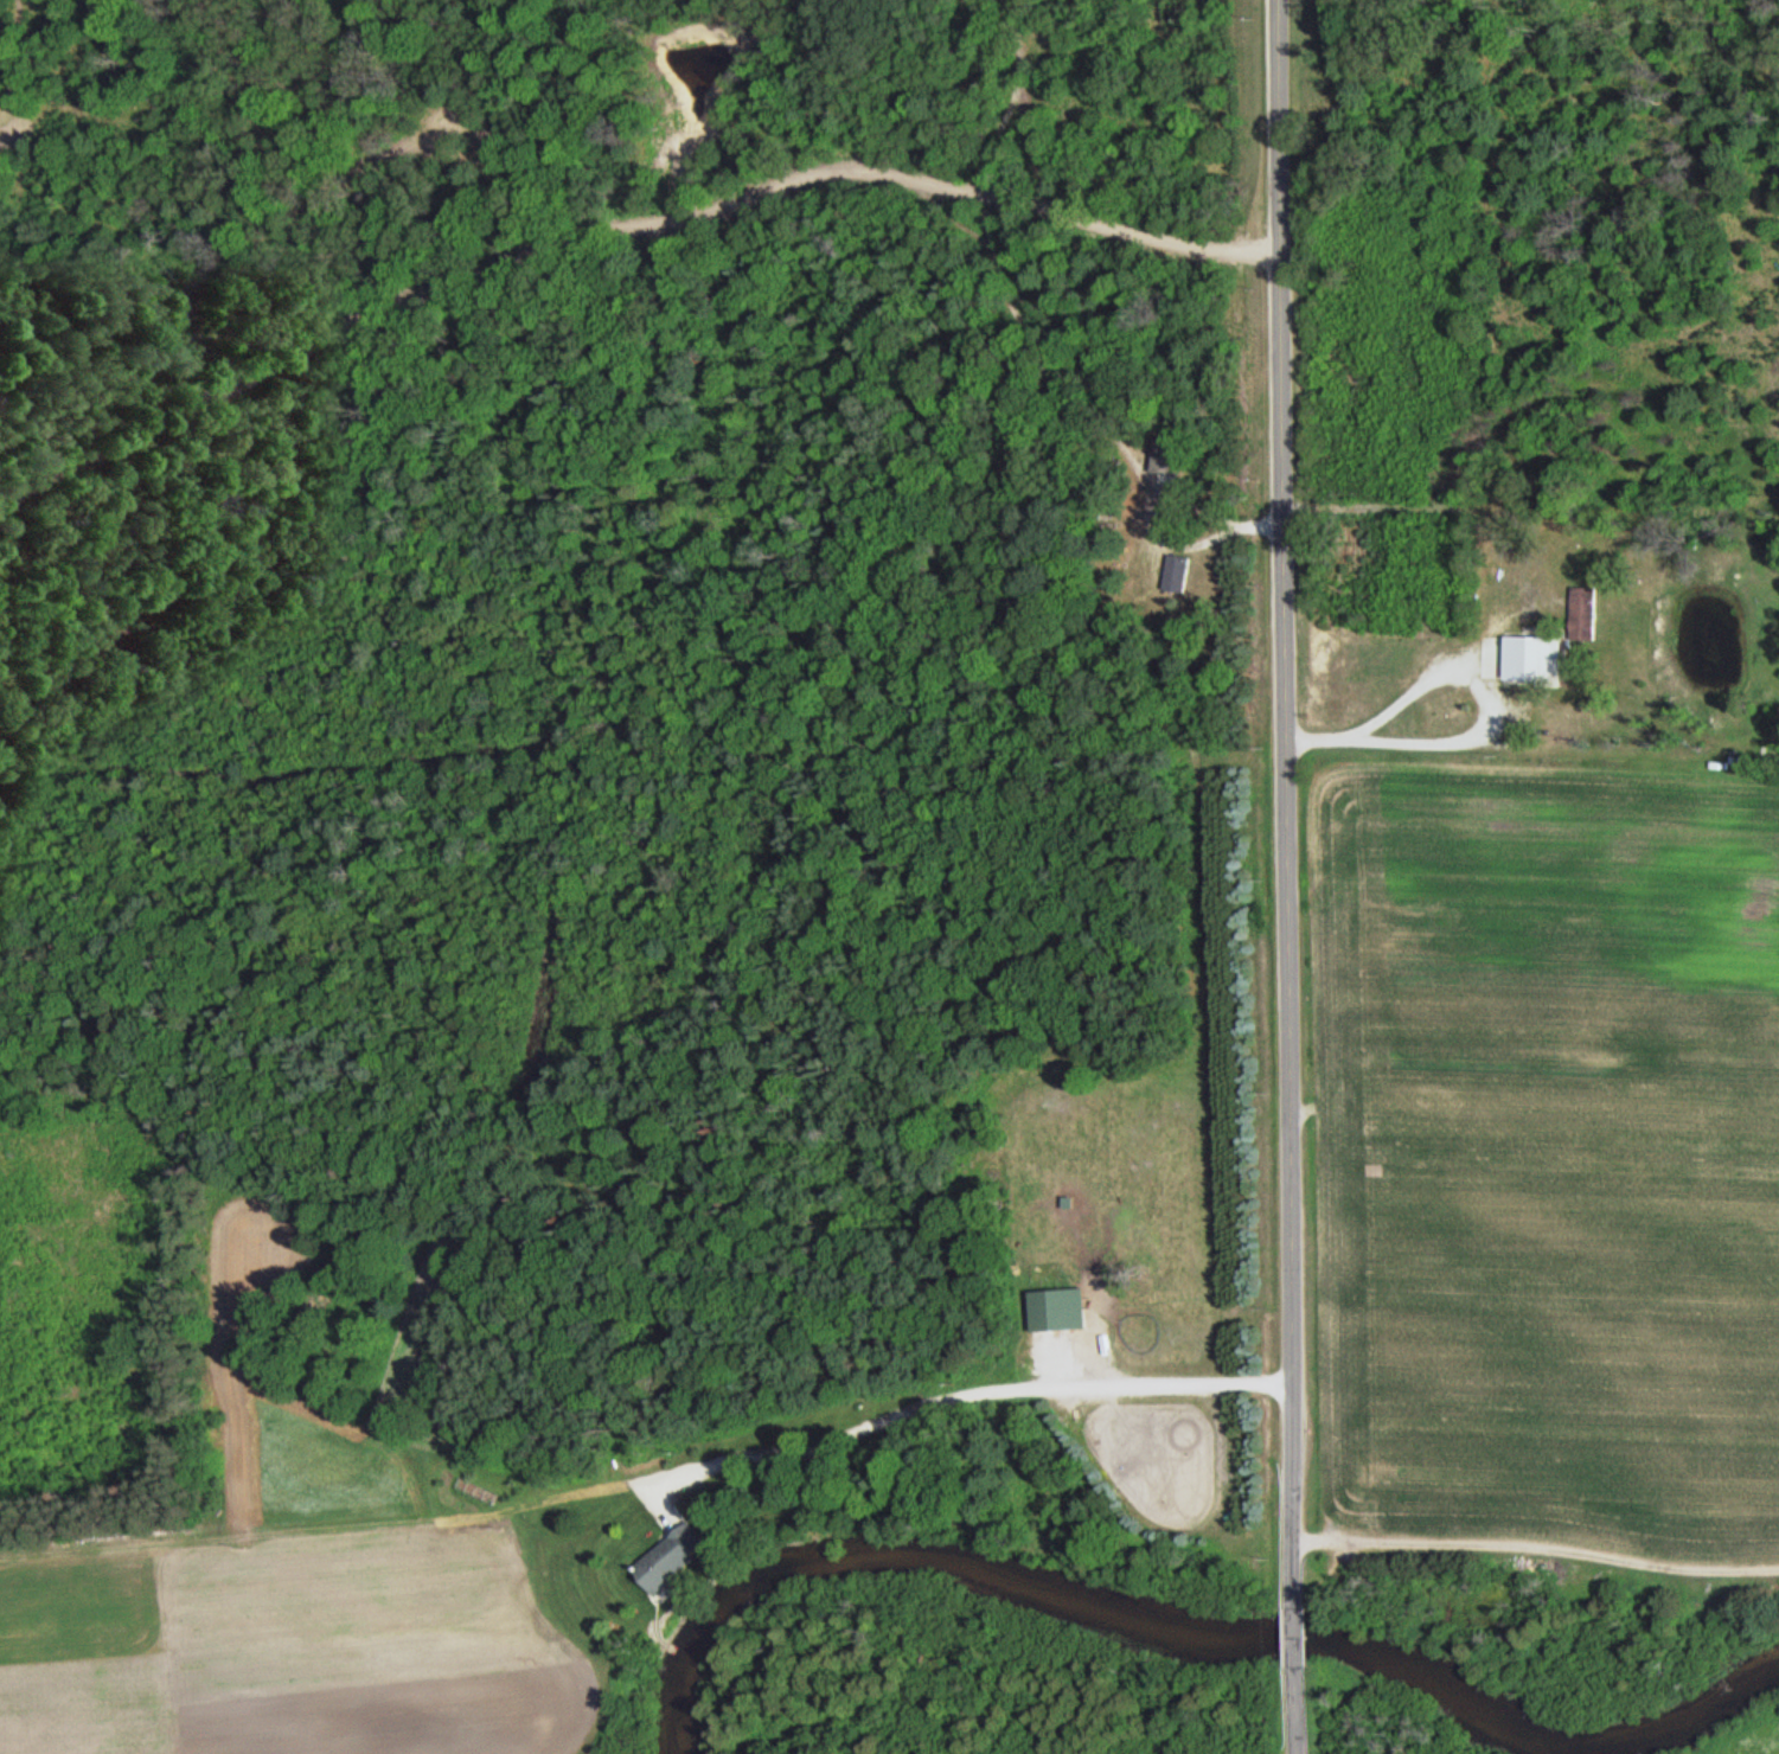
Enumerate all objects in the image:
building: (1167, 455)
building: (1179, 571)
building: (1587, 612)
building: (1534, 657)
road: (1290, 804)
road: (960, 1393)
road: (677, 1519)
road: (1538, 1548)
building: (680, 1554)
river: (1180, 1638)
road: (1300, 1638)
road: (1301, 1710)

